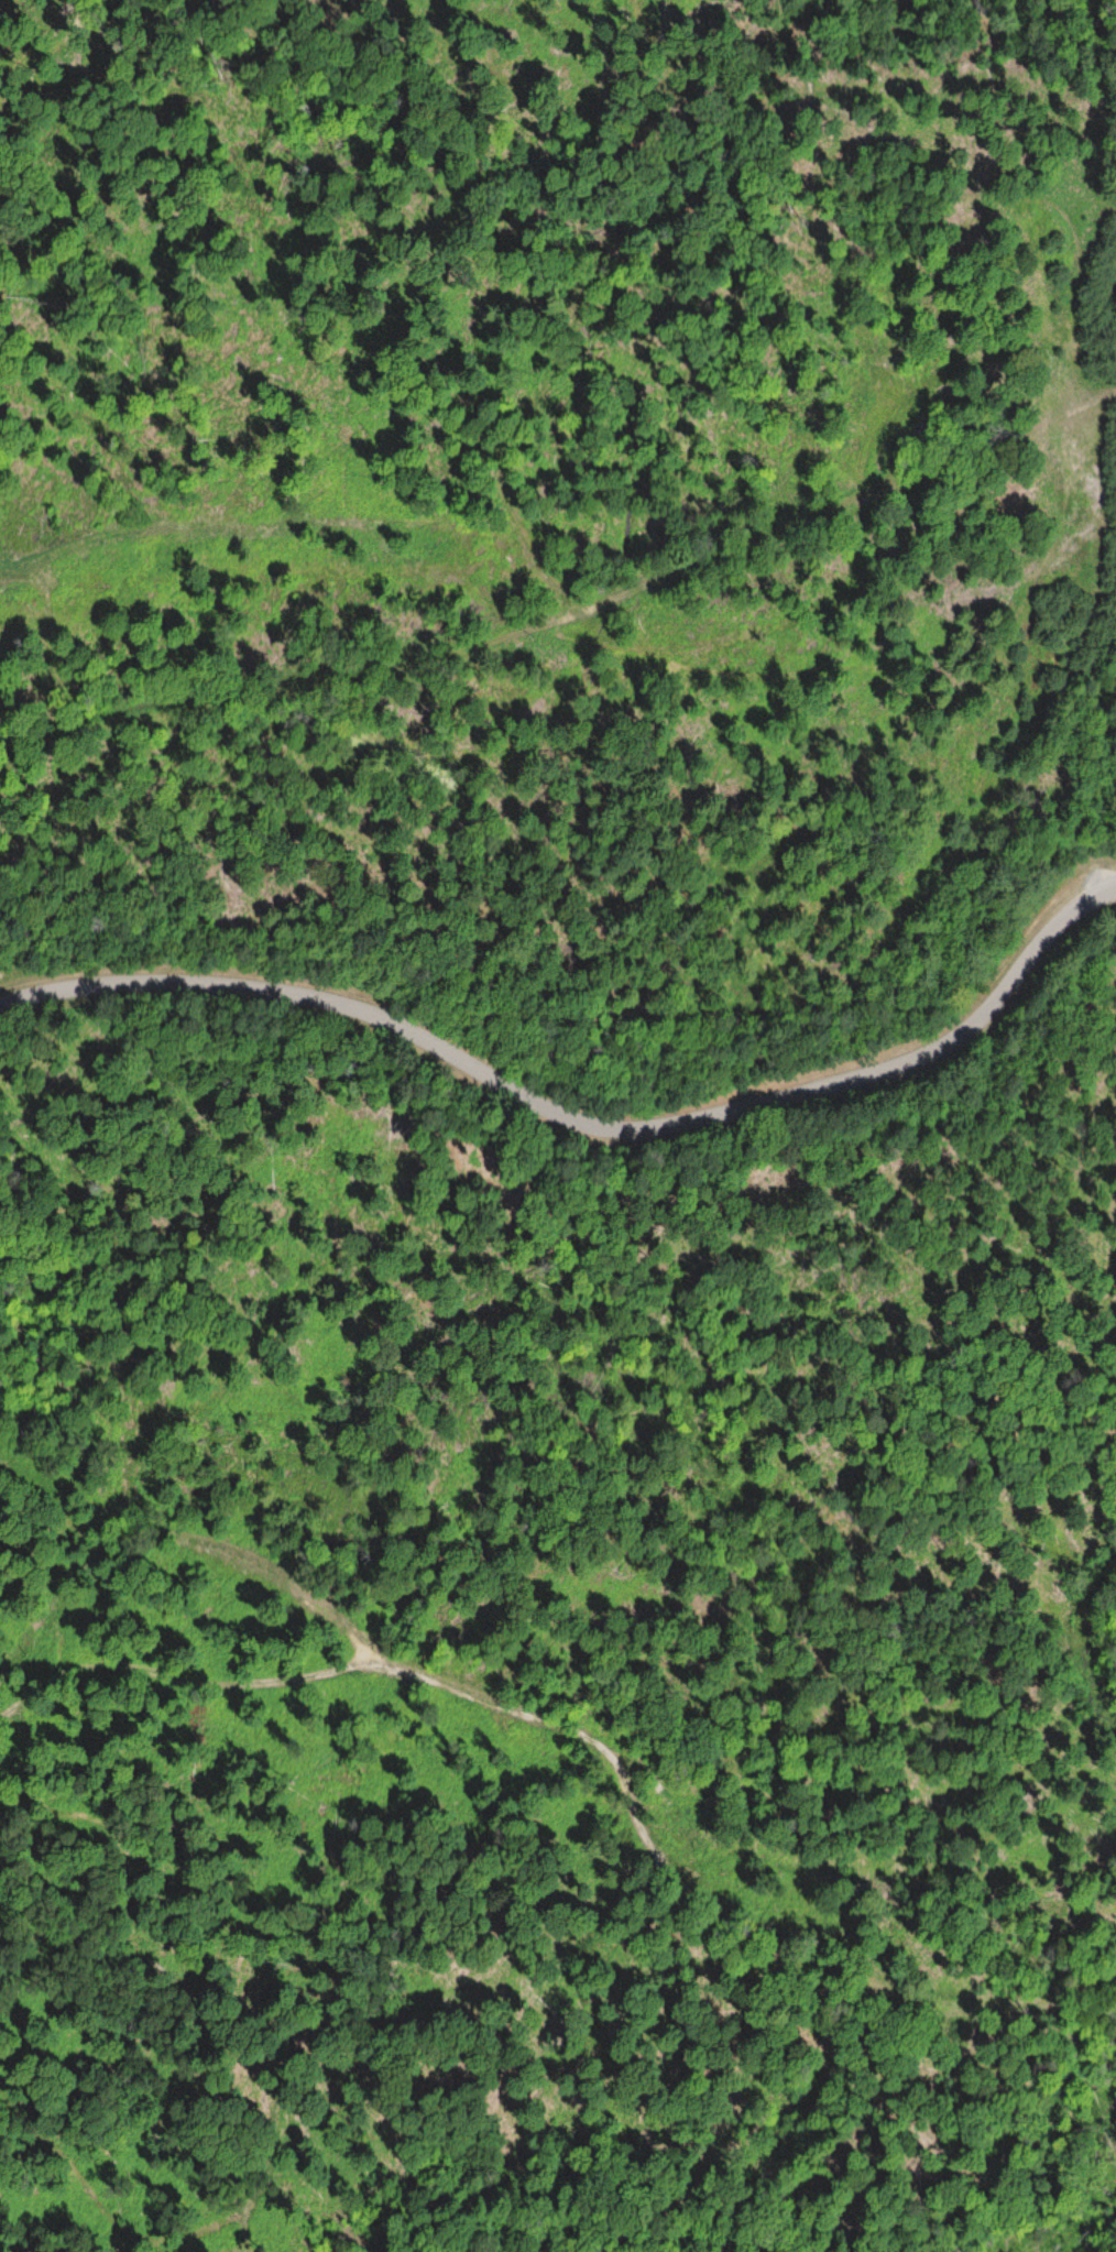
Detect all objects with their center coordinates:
road: (568, 597)
road: (582, 1119)

